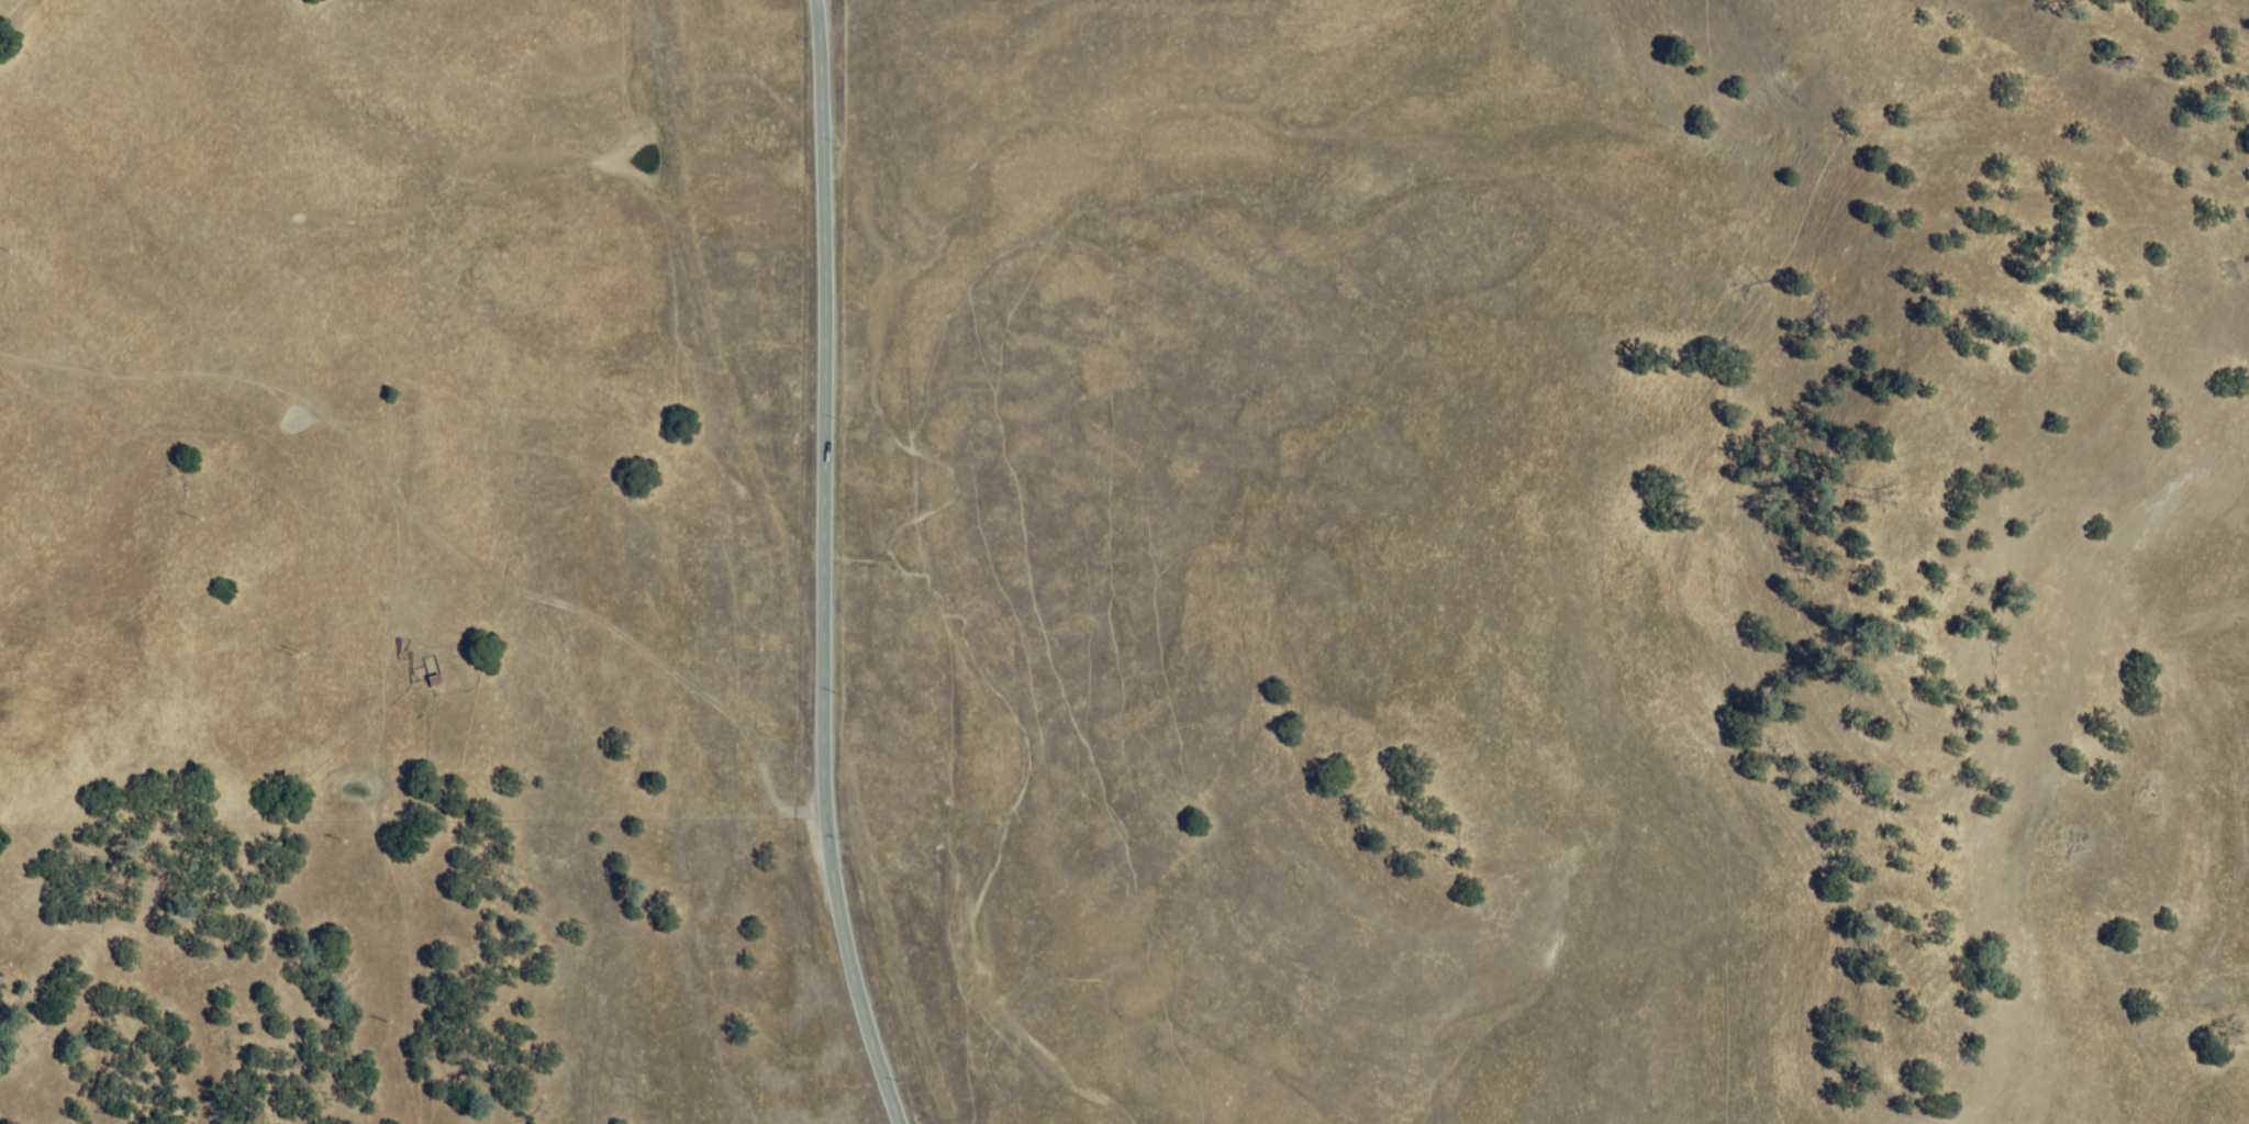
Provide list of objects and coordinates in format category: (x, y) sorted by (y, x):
road: (826, 566)

